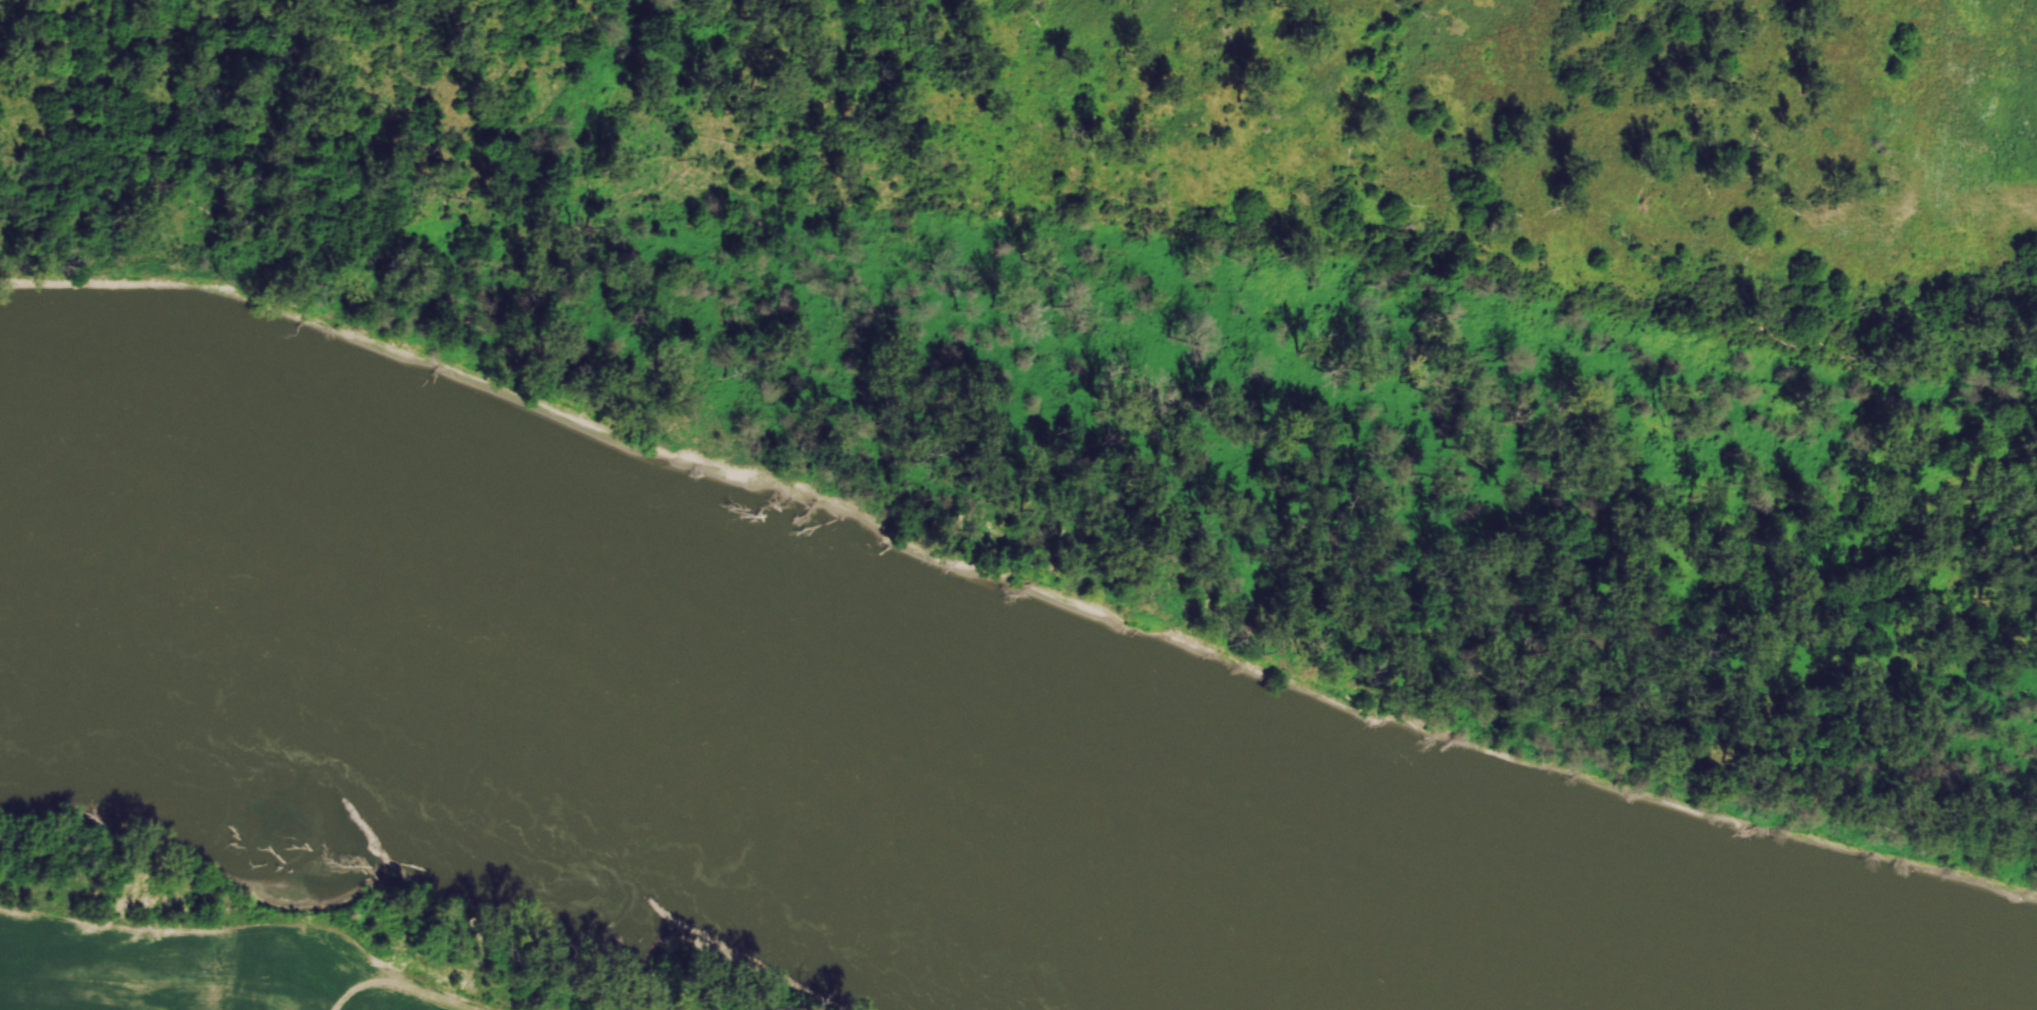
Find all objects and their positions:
river: (726, 749)
road: (233, 969)

